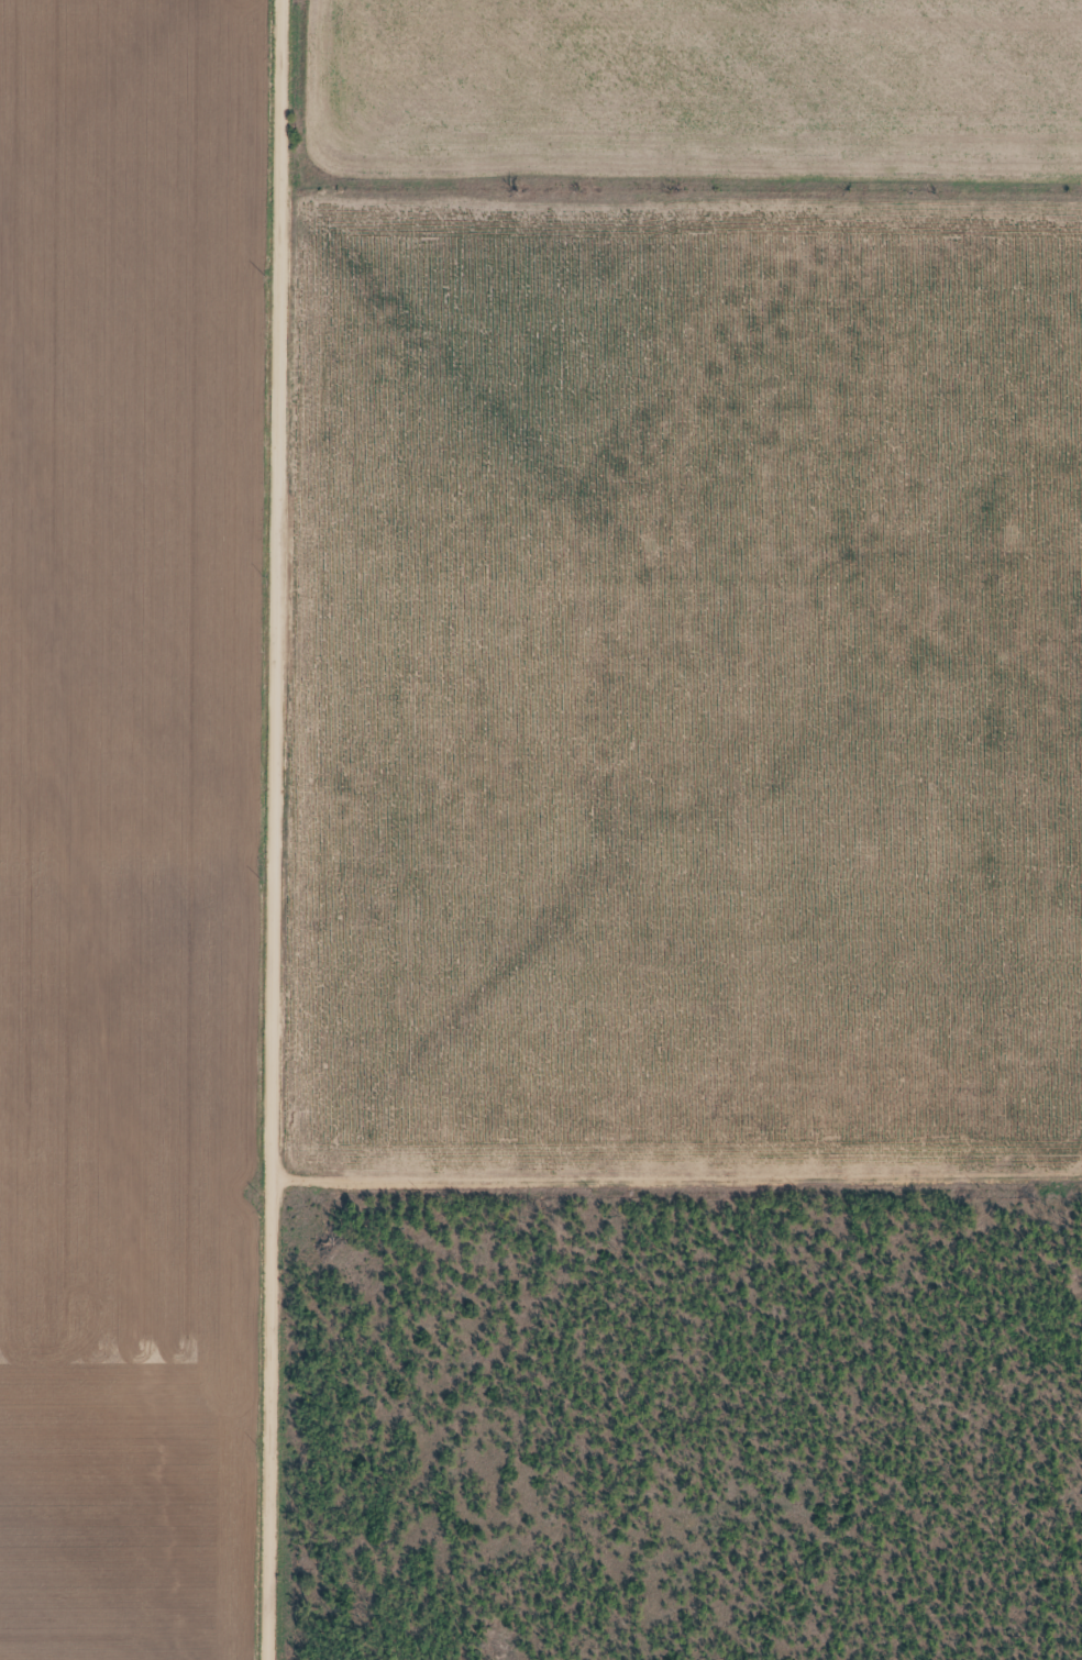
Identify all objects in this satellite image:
road: (242, 830)
road: (661, 1199)

